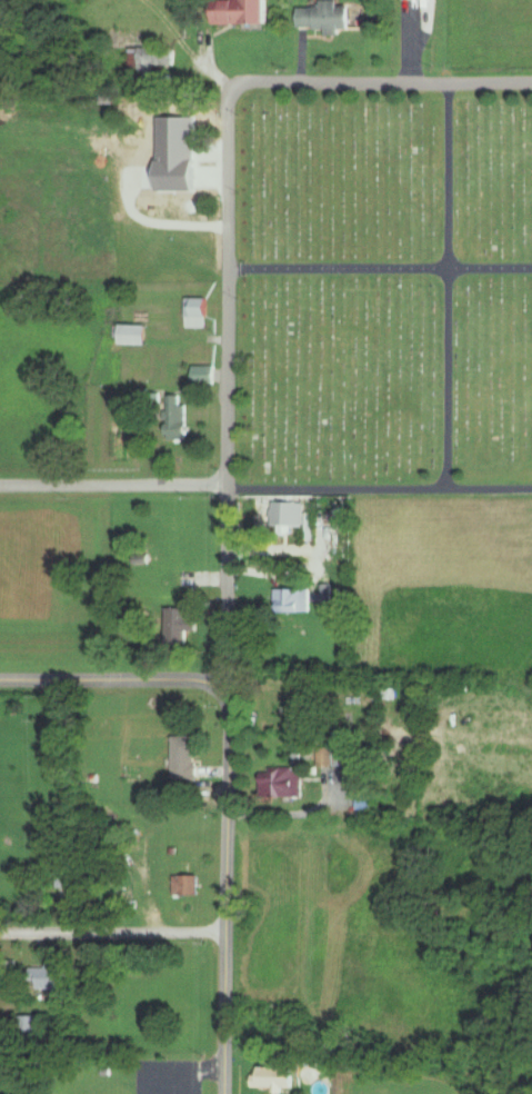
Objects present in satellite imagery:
building: (243, 11)
building: (327, 16)
road: (180, 40)
building: (150, 59)
road: (377, 78)
building: (111, 148)
building: (181, 152)
building: (191, 177)
road: (378, 265)
road: (224, 281)
road: (442, 281)
park: (383, 292)
building: (195, 311)
building: (134, 334)
building: (203, 374)
building: (177, 417)
road: (111, 484)
road: (378, 485)
building: (289, 513)
road: (223, 585)
building: (325, 593)
building: (294, 599)
building: (180, 624)
road: (111, 680)
building: (331, 755)
building: (185, 756)
building: (283, 782)
road: (285, 812)
building: (63, 881)
building: (187, 884)
road: (225, 889)
road: (113, 931)
building: (47, 975)
building: (275, 1077)

